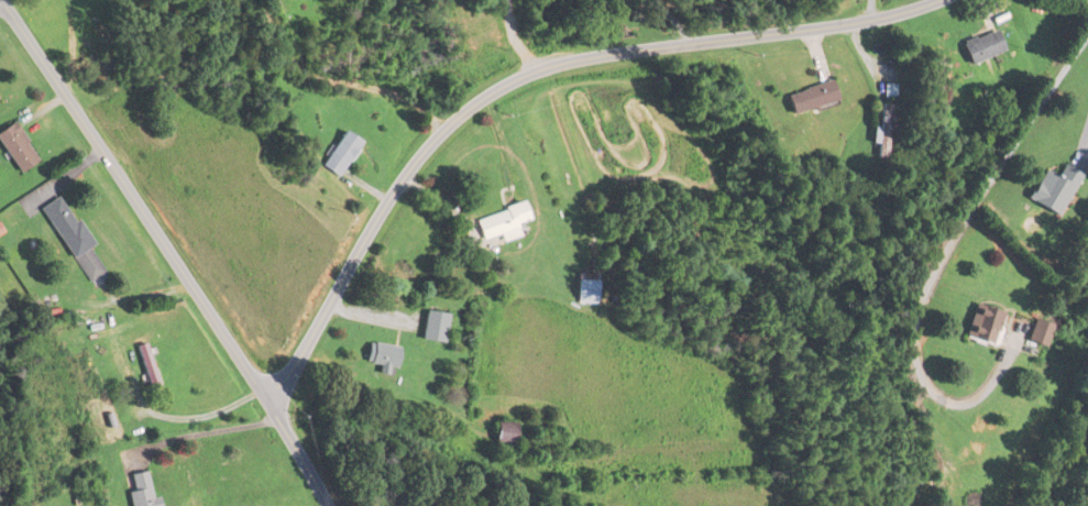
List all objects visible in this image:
road: (1086, 2)
road: (867, 10)
road: (520, 36)
road: (418, 46)
building: (981, 46)
road: (525, 76)
building: (810, 97)
building: (883, 132)
road: (1084, 143)
building: (15, 150)
building: (341, 154)
building: (1053, 189)
building: (502, 223)
building: (72, 238)
road: (950, 245)
road: (167, 250)
building: (585, 289)
building: (980, 324)
building: (432, 326)
building: (1036, 332)
building: (381, 356)
building: (151, 370)
building: (128, 375)
road: (200, 432)
building: (503, 435)
building: (139, 490)

